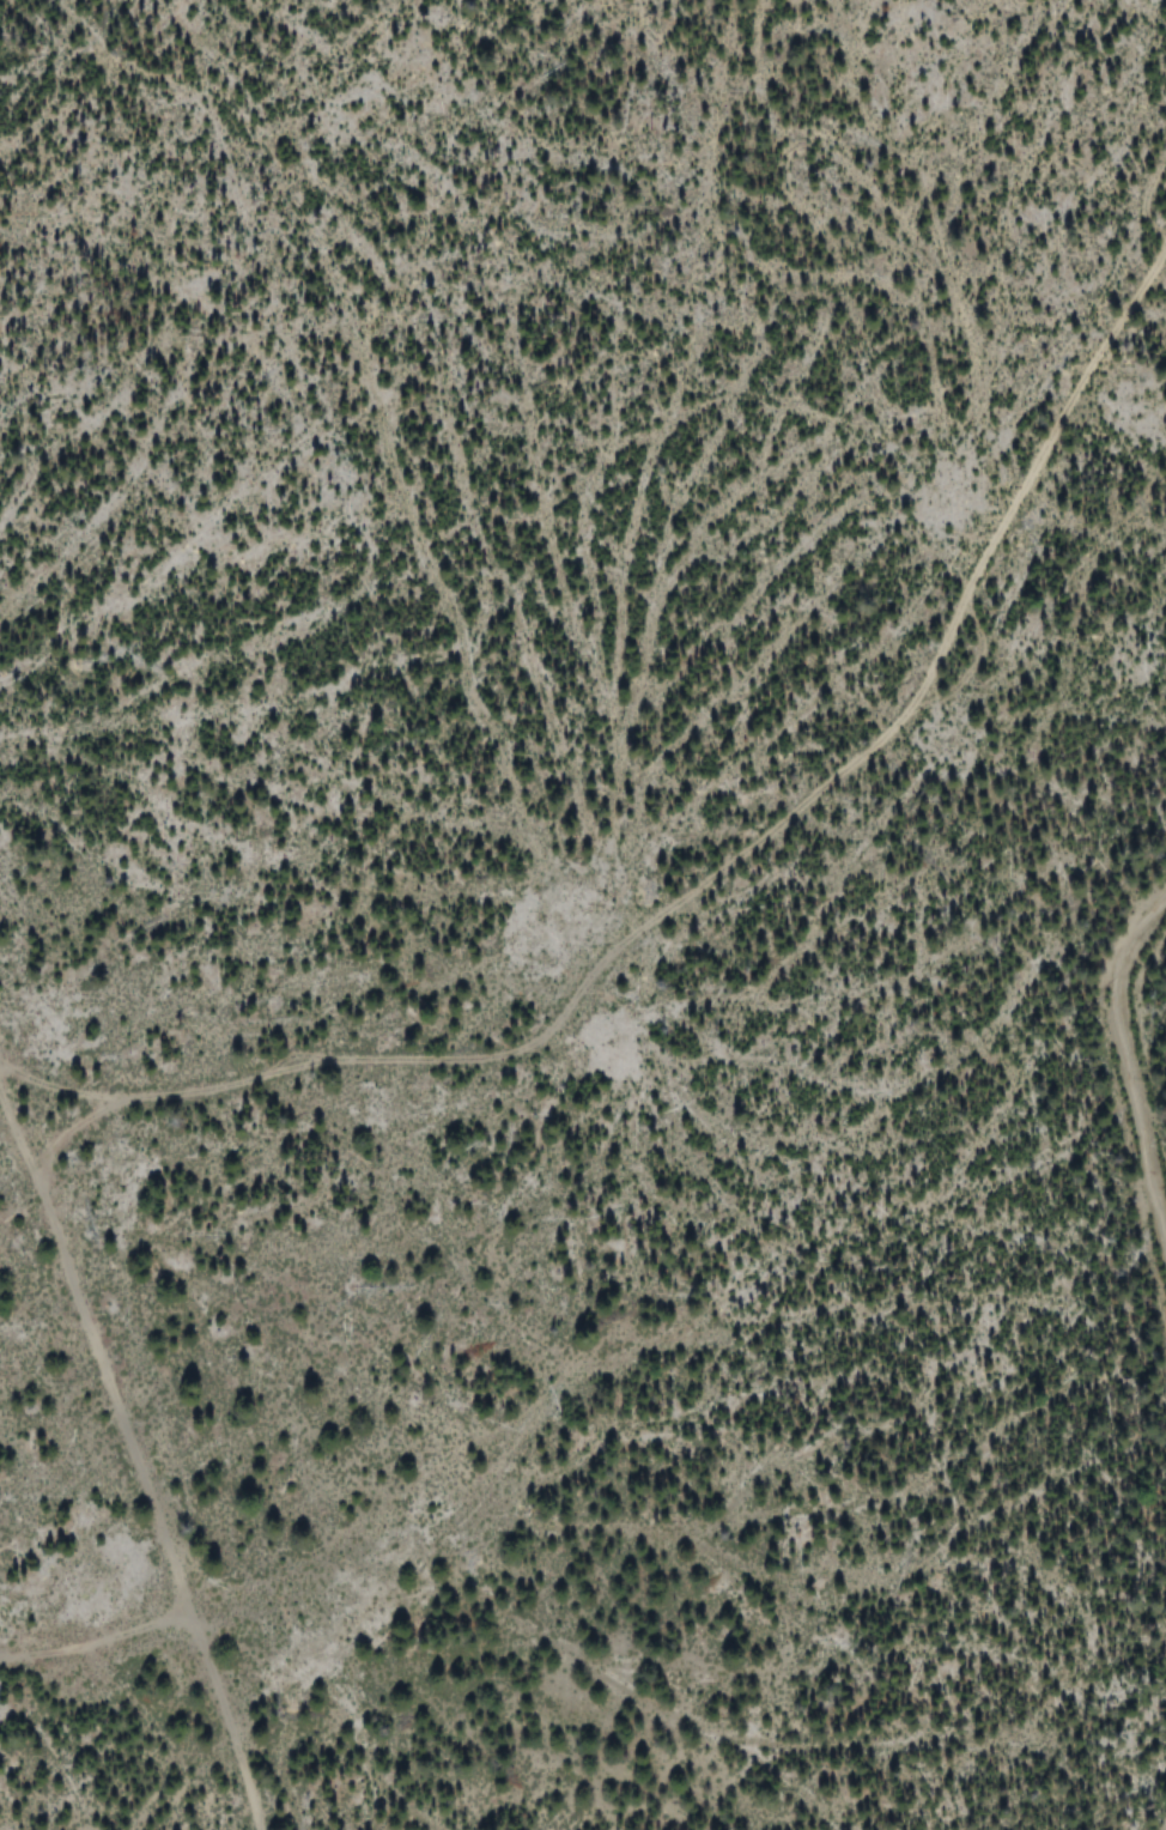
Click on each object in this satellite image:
road: (188, 1571)

